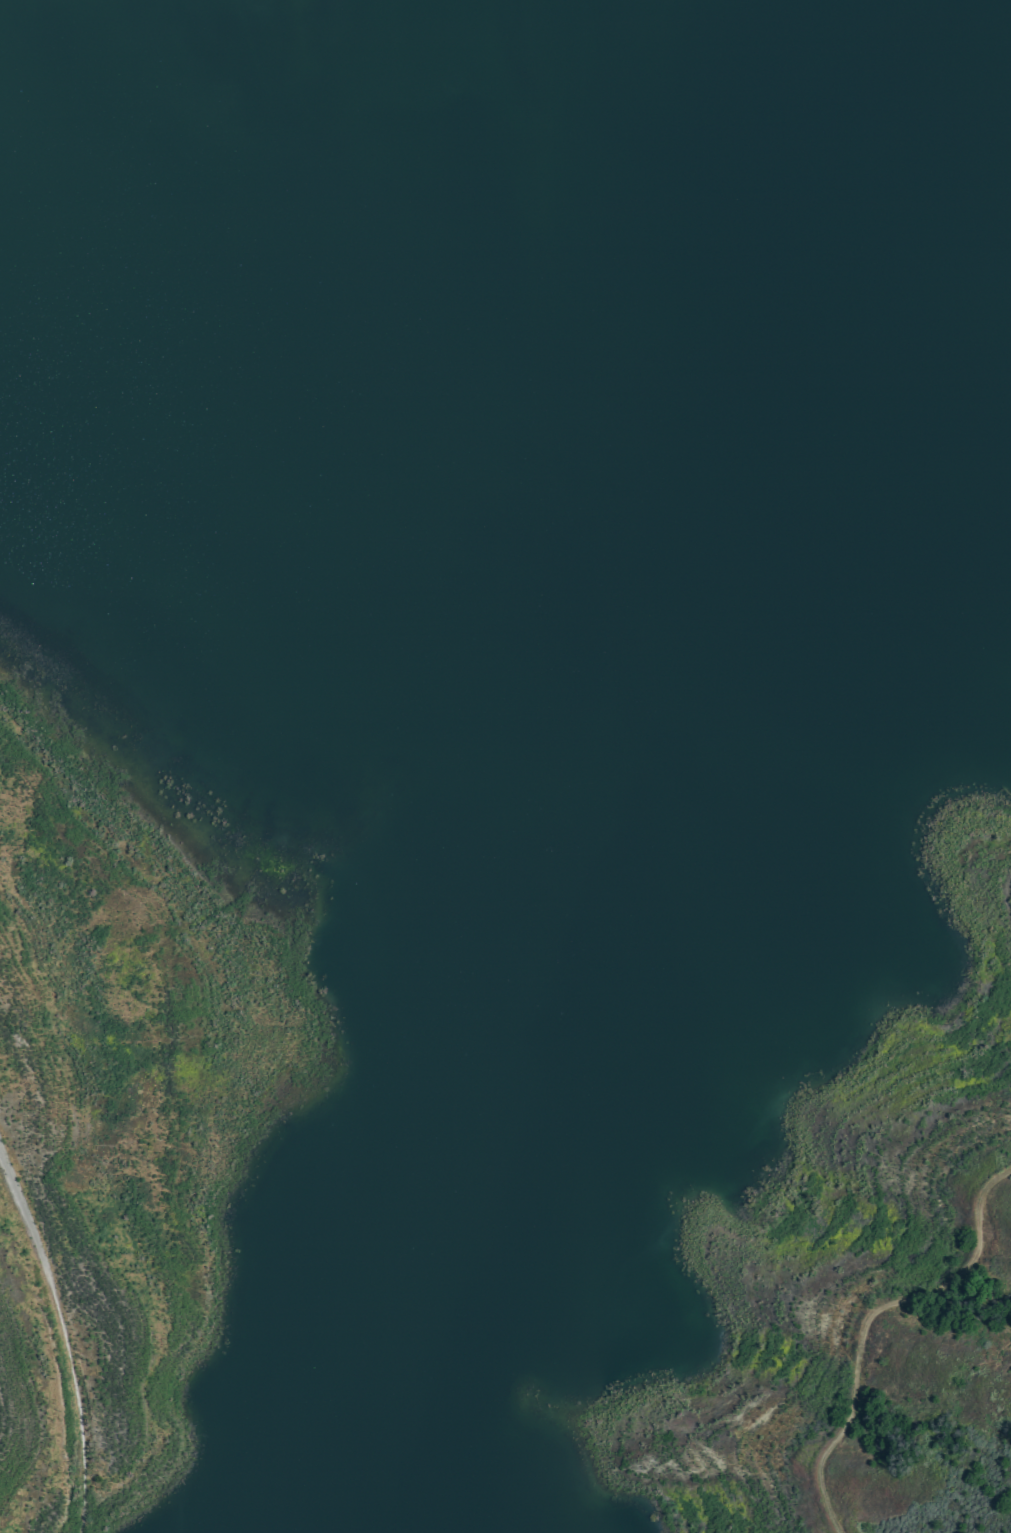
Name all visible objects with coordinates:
park: (136, 1071)
road: (868, 1317)
road: (63, 1340)

